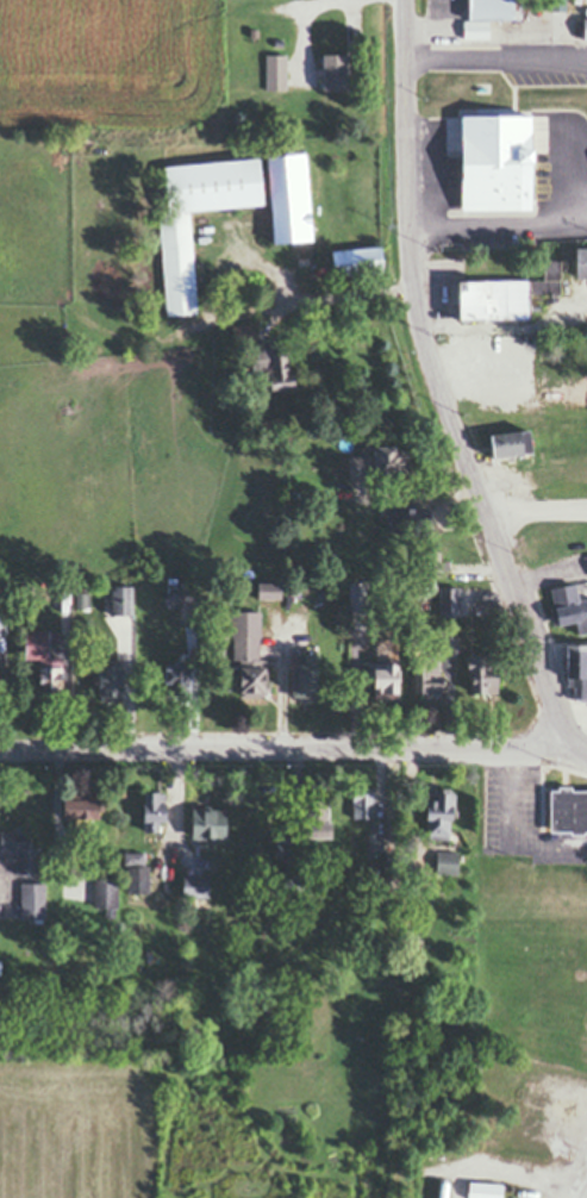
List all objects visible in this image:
building: (560, 5)
building: (492, 10)
building: (479, 27)
building: (585, 27)
building: (279, 43)
road: (497, 52)
building: (276, 73)
building: (330, 73)
building: (479, 87)
building: (495, 161)
building: (289, 198)
road: (499, 220)
building: (358, 261)
building: (173, 262)
building: (577, 262)
road: (336, 292)
building: (500, 294)
building: (245, 332)
building: (275, 367)
road: (441, 383)
building: (512, 398)
building: (574, 403)
building: (266, 423)
building: (288, 441)
building: (513, 443)
building: (564, 443)
building: (375, 464)
road: (536, 503)
building: (411, 519)
building: (431, 562)
building: (267, 591)
building: (180, 593)
building: (20, 594)
building: (358, 595)
building: (82, 599)
building: (119, 600)
building: (450, 601)
building: (568, 609)
building: (1, 624)
building: (449, 643)
building: (44, 647)
building: (245, 655)
building: (38, 664)
building: (577, 669)
building: (482, 673)
building: (173, 675)
building: (305, 675)
building: (429, 675)
building: (107, 681)
building: (382, 681)
road: (276, 690)
road: (282, 751)
road: (576, 751)
building: (360, 801)
building: (79, 809)
building: (155, 811)
building: (566, 811)
building: (439, 815)
building: (312, 820)
building: (205, 823)
road: (514, 830)
building: (374, 842)
building: (573, 843)
building: (20, 849)
building: (448, 862)
building: (138, 872)
building: (295, 879)
building: (324, 882)
building: (196, 885)
building: (104, 893)
building: (307, 897)
building: (35, 899)
building: (237, 931)
building: (236, 956)
building: (481, 1190)

